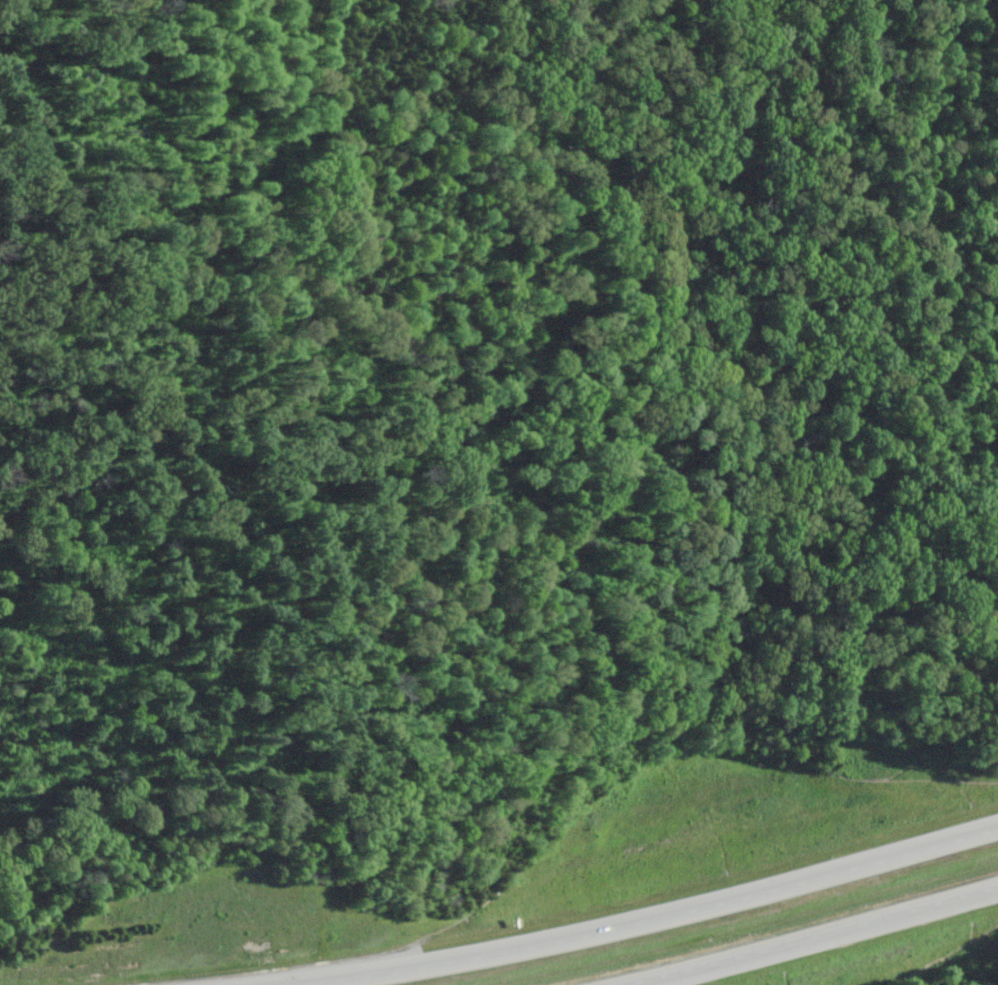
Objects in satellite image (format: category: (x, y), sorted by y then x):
road: (663, 916)
road: (809, 937)

